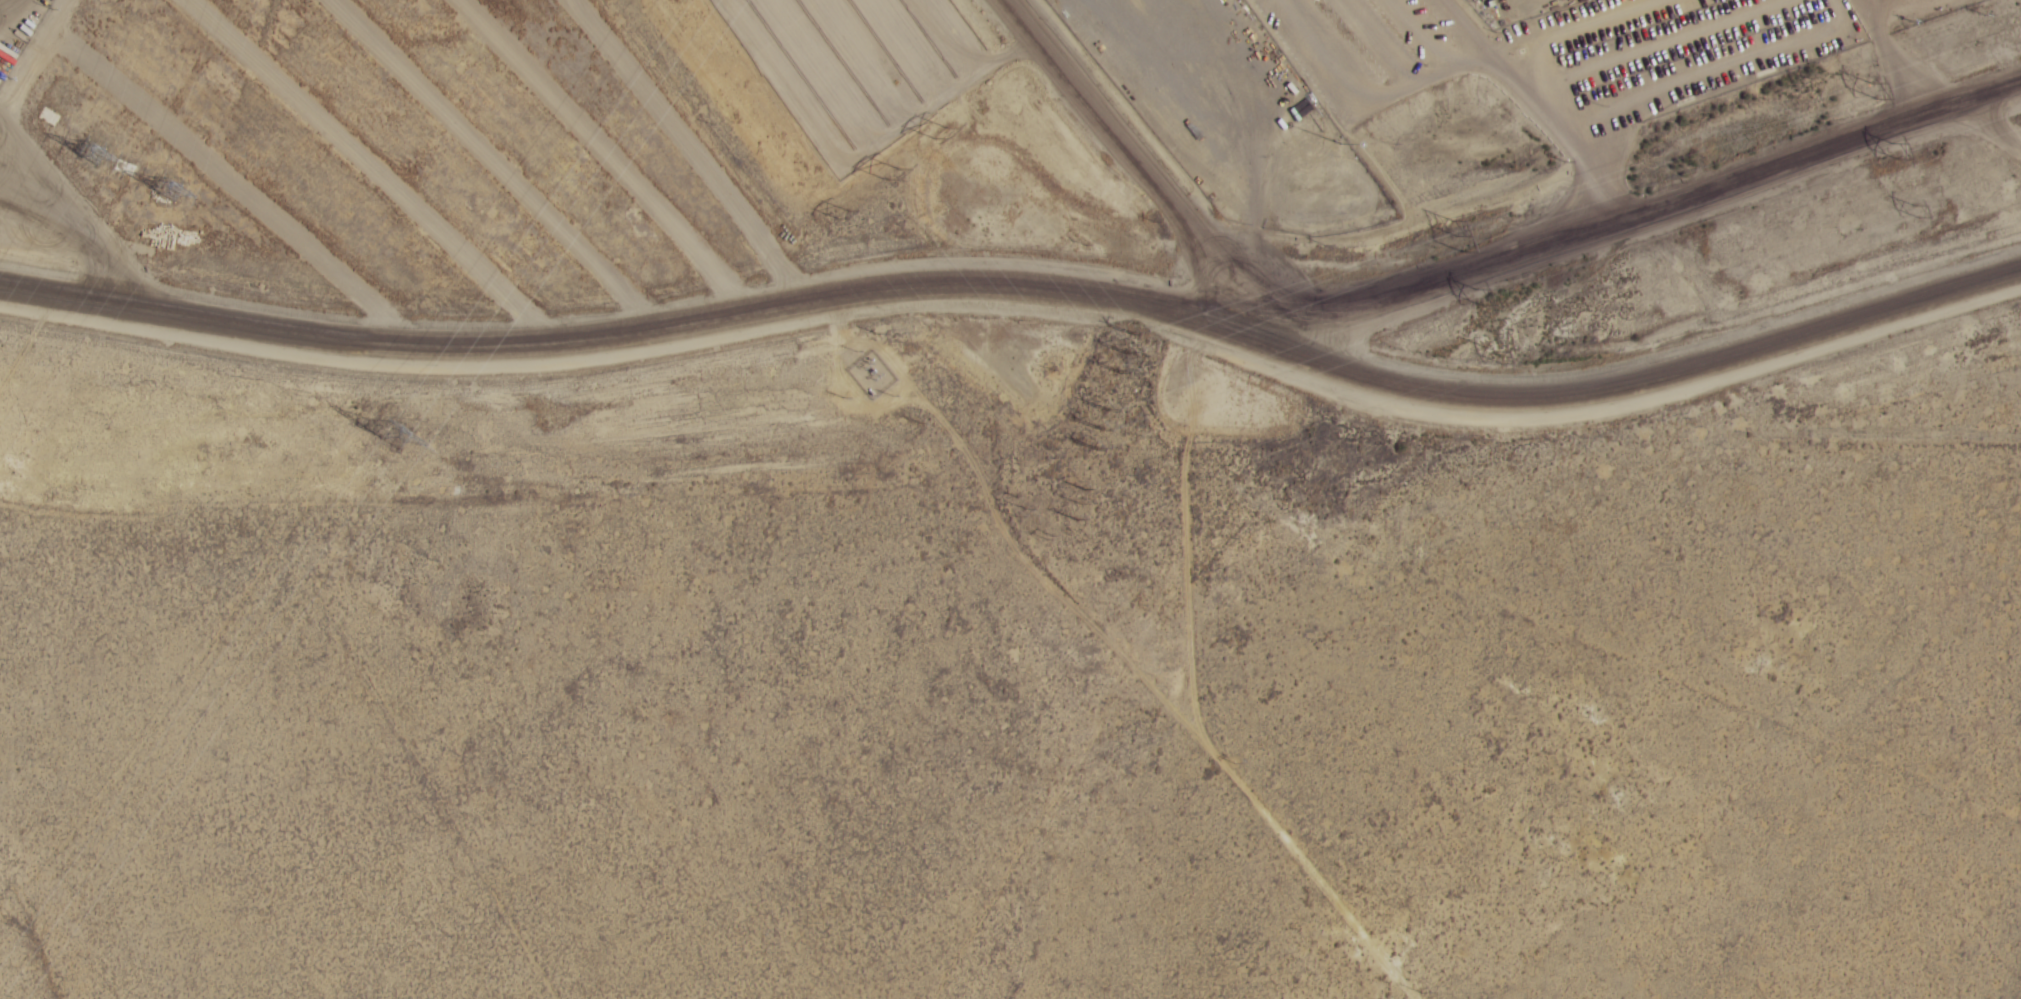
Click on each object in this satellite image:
power tower: (1880, 90)
power plant: (1473, 93)
road: (1100, 108)
road: (1968, 129)
power tower: (943, 131)
power tower: (1901, 148)
power tower: (94, 151)
power tower: (895, 175)
power tower: (171, 187)
power tower: (1918, 207)
power tower: (840, 209)
road: (1612, 225)
power tower: (1457, 232)
power tower: (1478, 292)
power tower: (1126, 348)
power tower: (1505, 349)
power tower: (1101, 425)
power tower: (393, 434)
power tower: (1083, 500)
road: (1192, 642)

